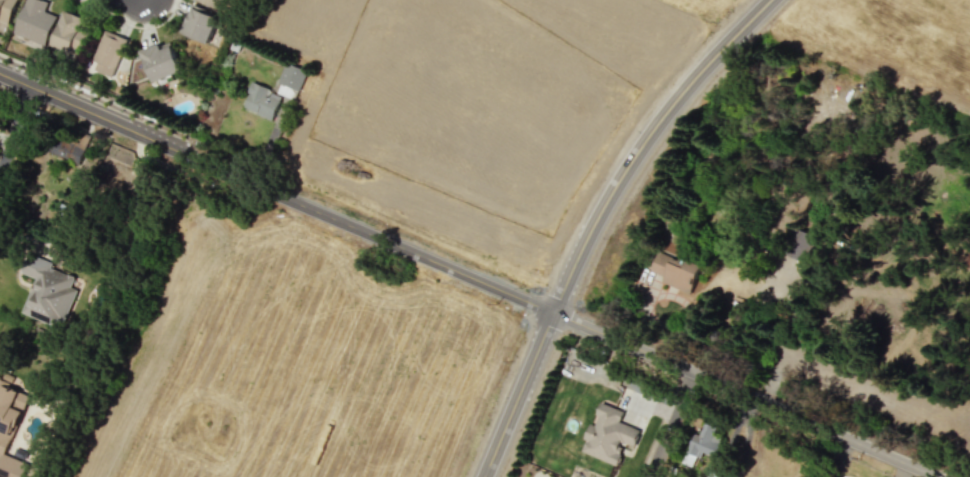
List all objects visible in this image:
building: (215, 3)
building: (7, 10)
building: (35, 21)
building: (200, 24)
building: (70, 32)
crop: (895, 43)
building: (109, 52)
building: (162, 61)
street lamp: (36, 72)
building: (289, 82)
building: (262, 101)
crop: (475, 105)
street lamp: (139, 115)
road: (16, 129)
road: (276, 192)
road: (595, 218)
building: (675, 271)
building: (48, 292)
road: (747, 393)
road: (672, 424)
building: (10, 428)
building: (608, 435)
building: (703, 445)
building: (715, 474)

